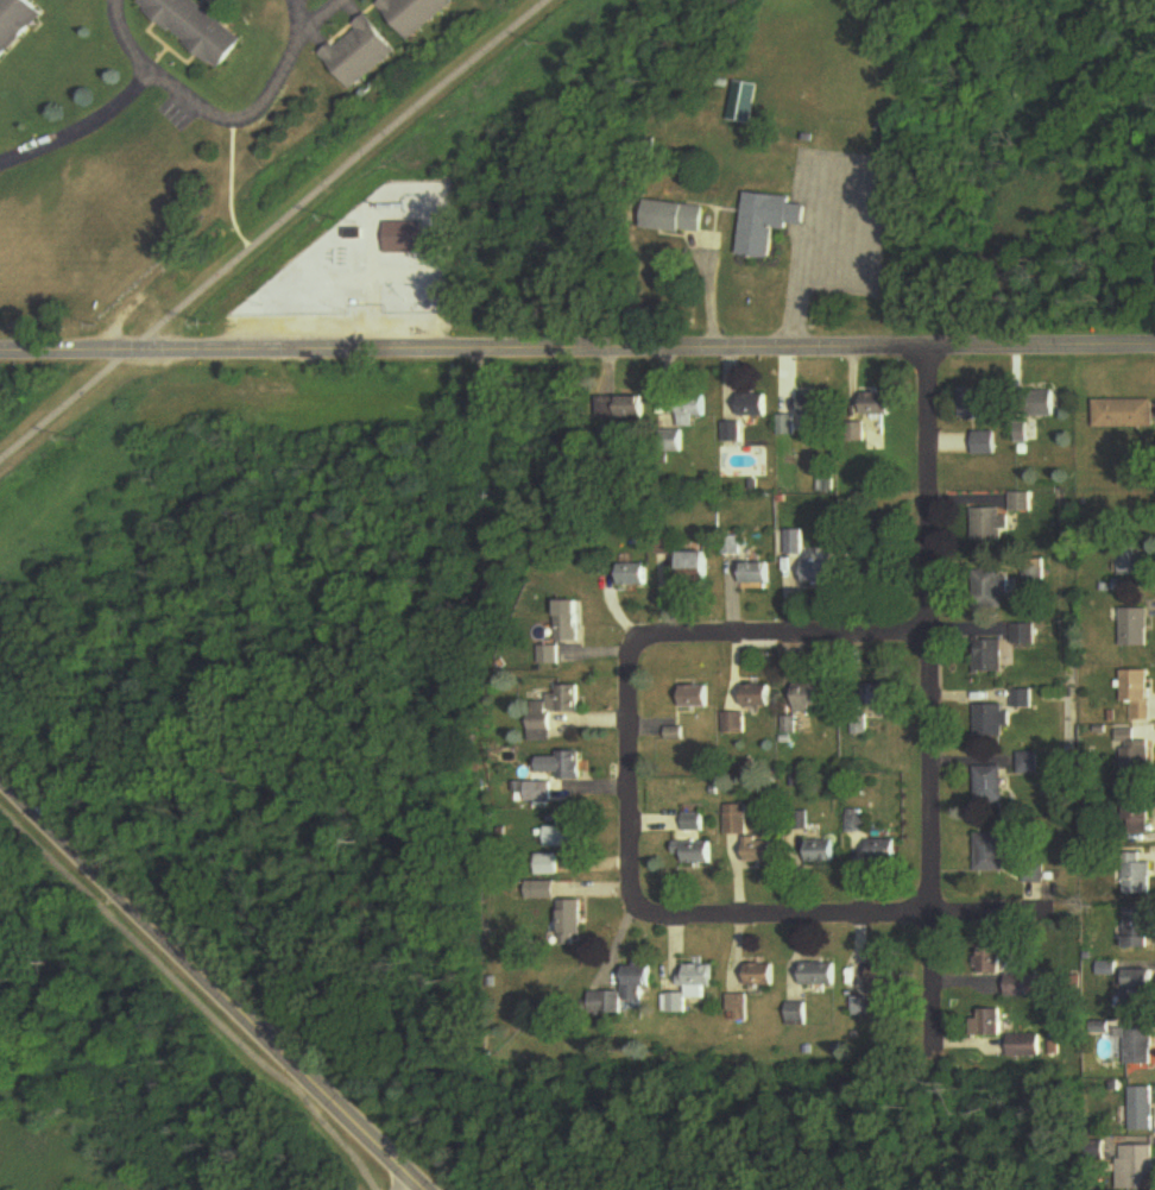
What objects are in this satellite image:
building: (234, 0)
road: (316, 13)
building: (414, 14)
building: (14, 21)
building: (195, 29)
road: (126, 37)
building: (359, 52)
road: (253, 107)
road: (82, 124)
building: (765, 222)
road: (270, 228)
building: (326, 260)
road: (576, 352)
building: (1044, 401)
building: (978, 403)
building: (877, 404)
building: (816, 405)
building: (756, 407)
building: (633, 408)
building: (693, 413)
building: (1125, 414)
building: (1020, 432)
building: (731, 433)
building: (983, 443)
building: (1017, 504)
building: (985, 527)
building: (667, 546)
building: (731, 547)
building: (1136, 562)
building: (696, 569)
building: (1029, 573)
building: (756, 574)
building: (818, 574)
building: (633, 577)
building: (987, 591)
building: (569, 623)
building: (1135, 629)
road: (783, 638)
building: (549, 656)
building: (984, 657)
building: (757, 695)
building: (1136, 695)
building: (695, 697)
building: (814, 697)
building: (1017, 699)
building: (871, 701)
building: (554, 711)
road: (927, 711)
building: (985, 722)
building: (734, 723)
building: (1132, 755)
building: (1025, 763)
building: (569, 766)
building: (985, 786)
building: (538, 792)
road: (630, 797)
building: (1136, 817)
building: (736, 820)
building: (693, 823)
building: (564, 836)
building: (759, 850)
building: (819, 851)
building: (696, 852)
building: (881, 852)
building: (987, 852)
building: (1137, 879)
road: (863, 917)
building: (573, 919)
building: (1137, 928)
building: (986, 961)
building: (818, 975)
building: (760, 976)
building: (698, 977)
building: (884, 978)
road: (213, 982)
building: (636, 982)
building: (1024, 986)
building: (1137, 991)
road: (191, 999)
building: (604, 1003)
building: (674, 1003)
building: (795, 1014)
building: (990, 1024)
building: (1025, 1046)
building: (1138, 1046)
building: (1140, 1109)
building: (1136, 1167)
park: (377, 1179)
road: (408, 1184)

